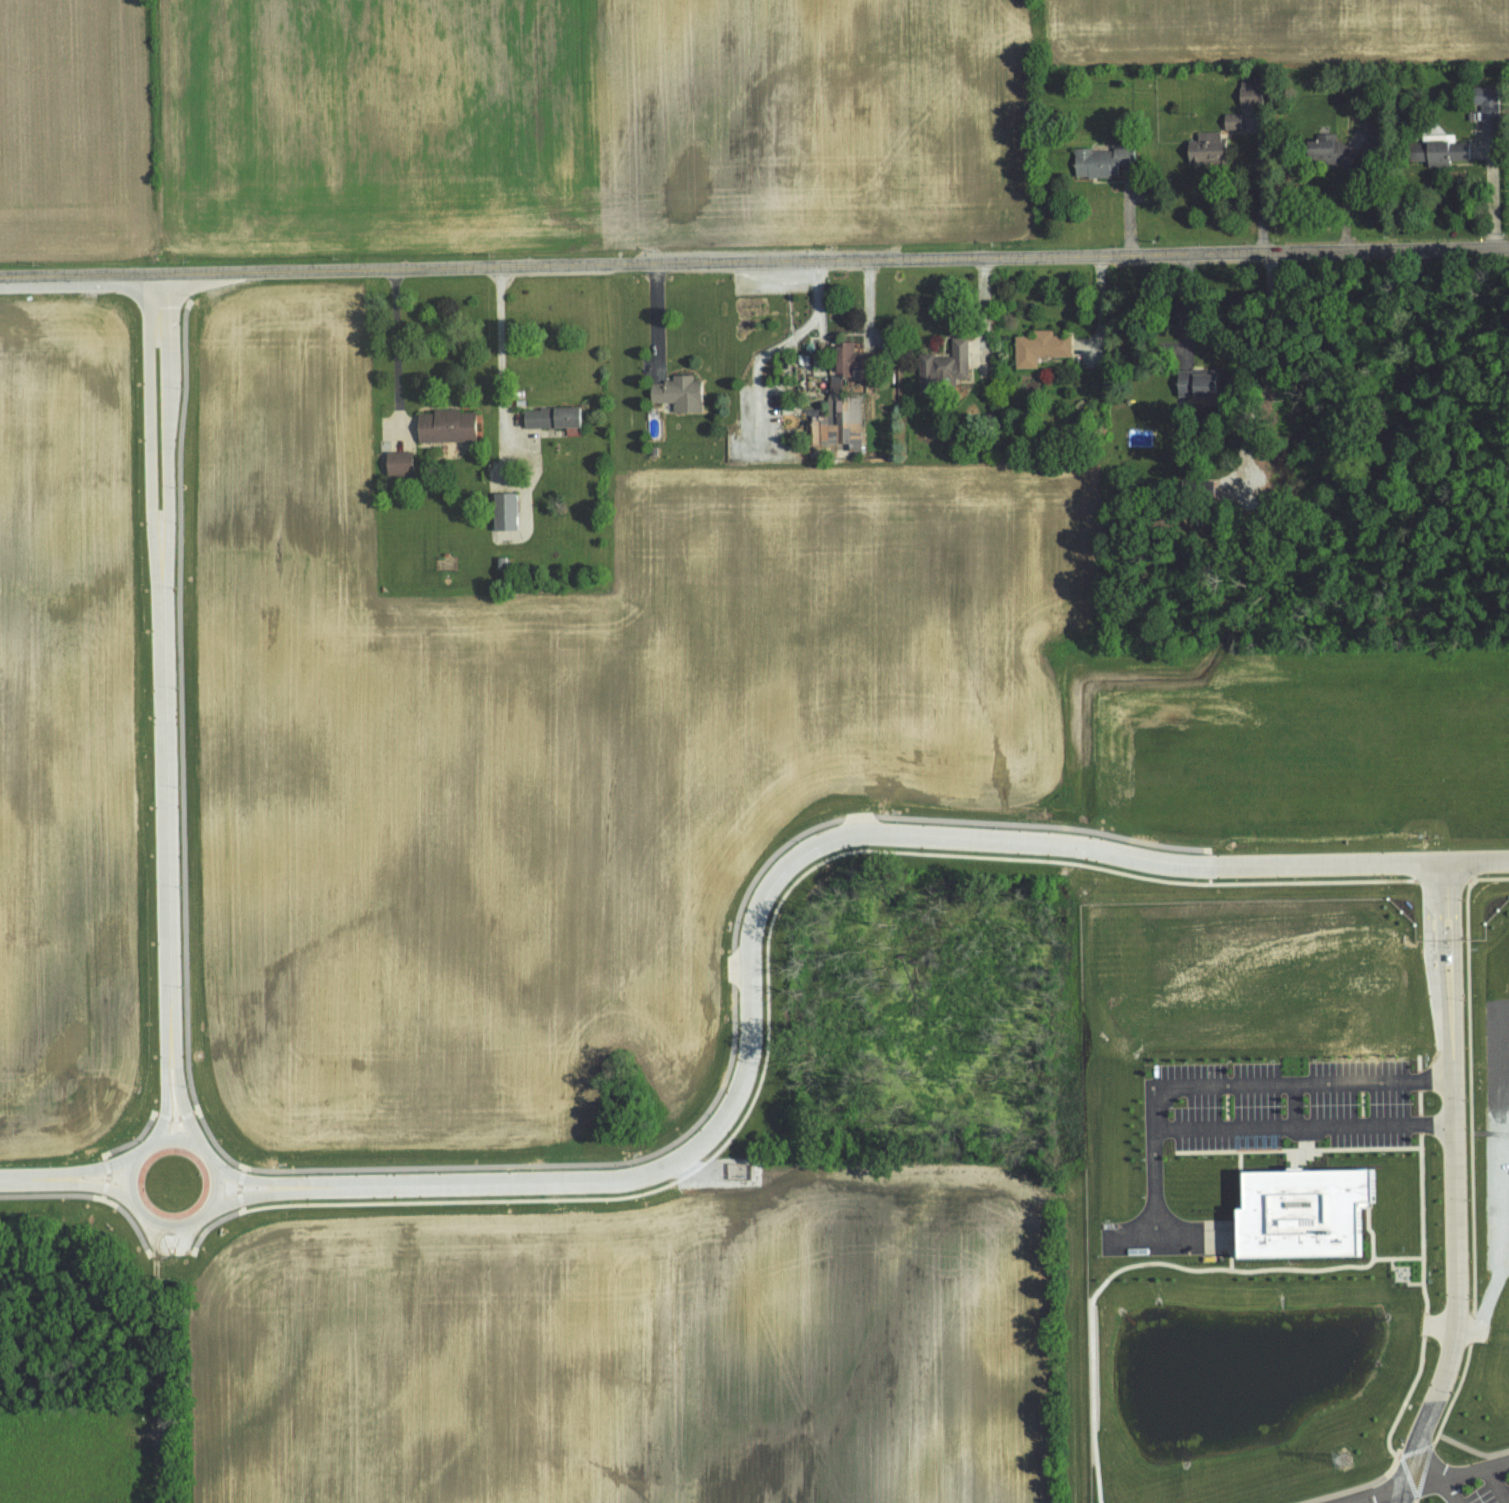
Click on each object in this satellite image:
building: (1248, 93)
building: (1486, 105)
building: (1231, 121)
building: (1207, 149)
building: (1330, 150)
building: (1438, 152)
building: (1100, 161)
road: (1494, 193)
road: (1347, 194)
road: (1258, 195)
road: (754, 260)
road: (1188, 304)
road: (1100, 307)
road: (985, 310)
road: (655, 317)
road: (778, 345)
building: (1039, 347)
road: (408, 349)
road: (512, 353)
building: (846, 358)
building: (944, 363)
building: (1194, 383)
building: (677, 393)
building: (553, 415)
building: (447, 422)
building: (837, 422)
building: (399, 463)
building: (503, 509)
road: (164, 704)
road: (769, 892)
road: (1230, 1085)
road: (1293, 1108)
road: (1301, 1131)
road: (1454, 1144)
road: (209, 1154)
road: (60, 1184)
building: (1313, 1207)
road: (165, 1367)
power tower: (1347, 1456)
road: (1457, 1471)
parking lot: (1468, 1479)
road: (1500, 1480)
road: (1404, 1485)
road: (1448, 1490)
road: (1406, 1494)
parking lot: (1344, 1502)

